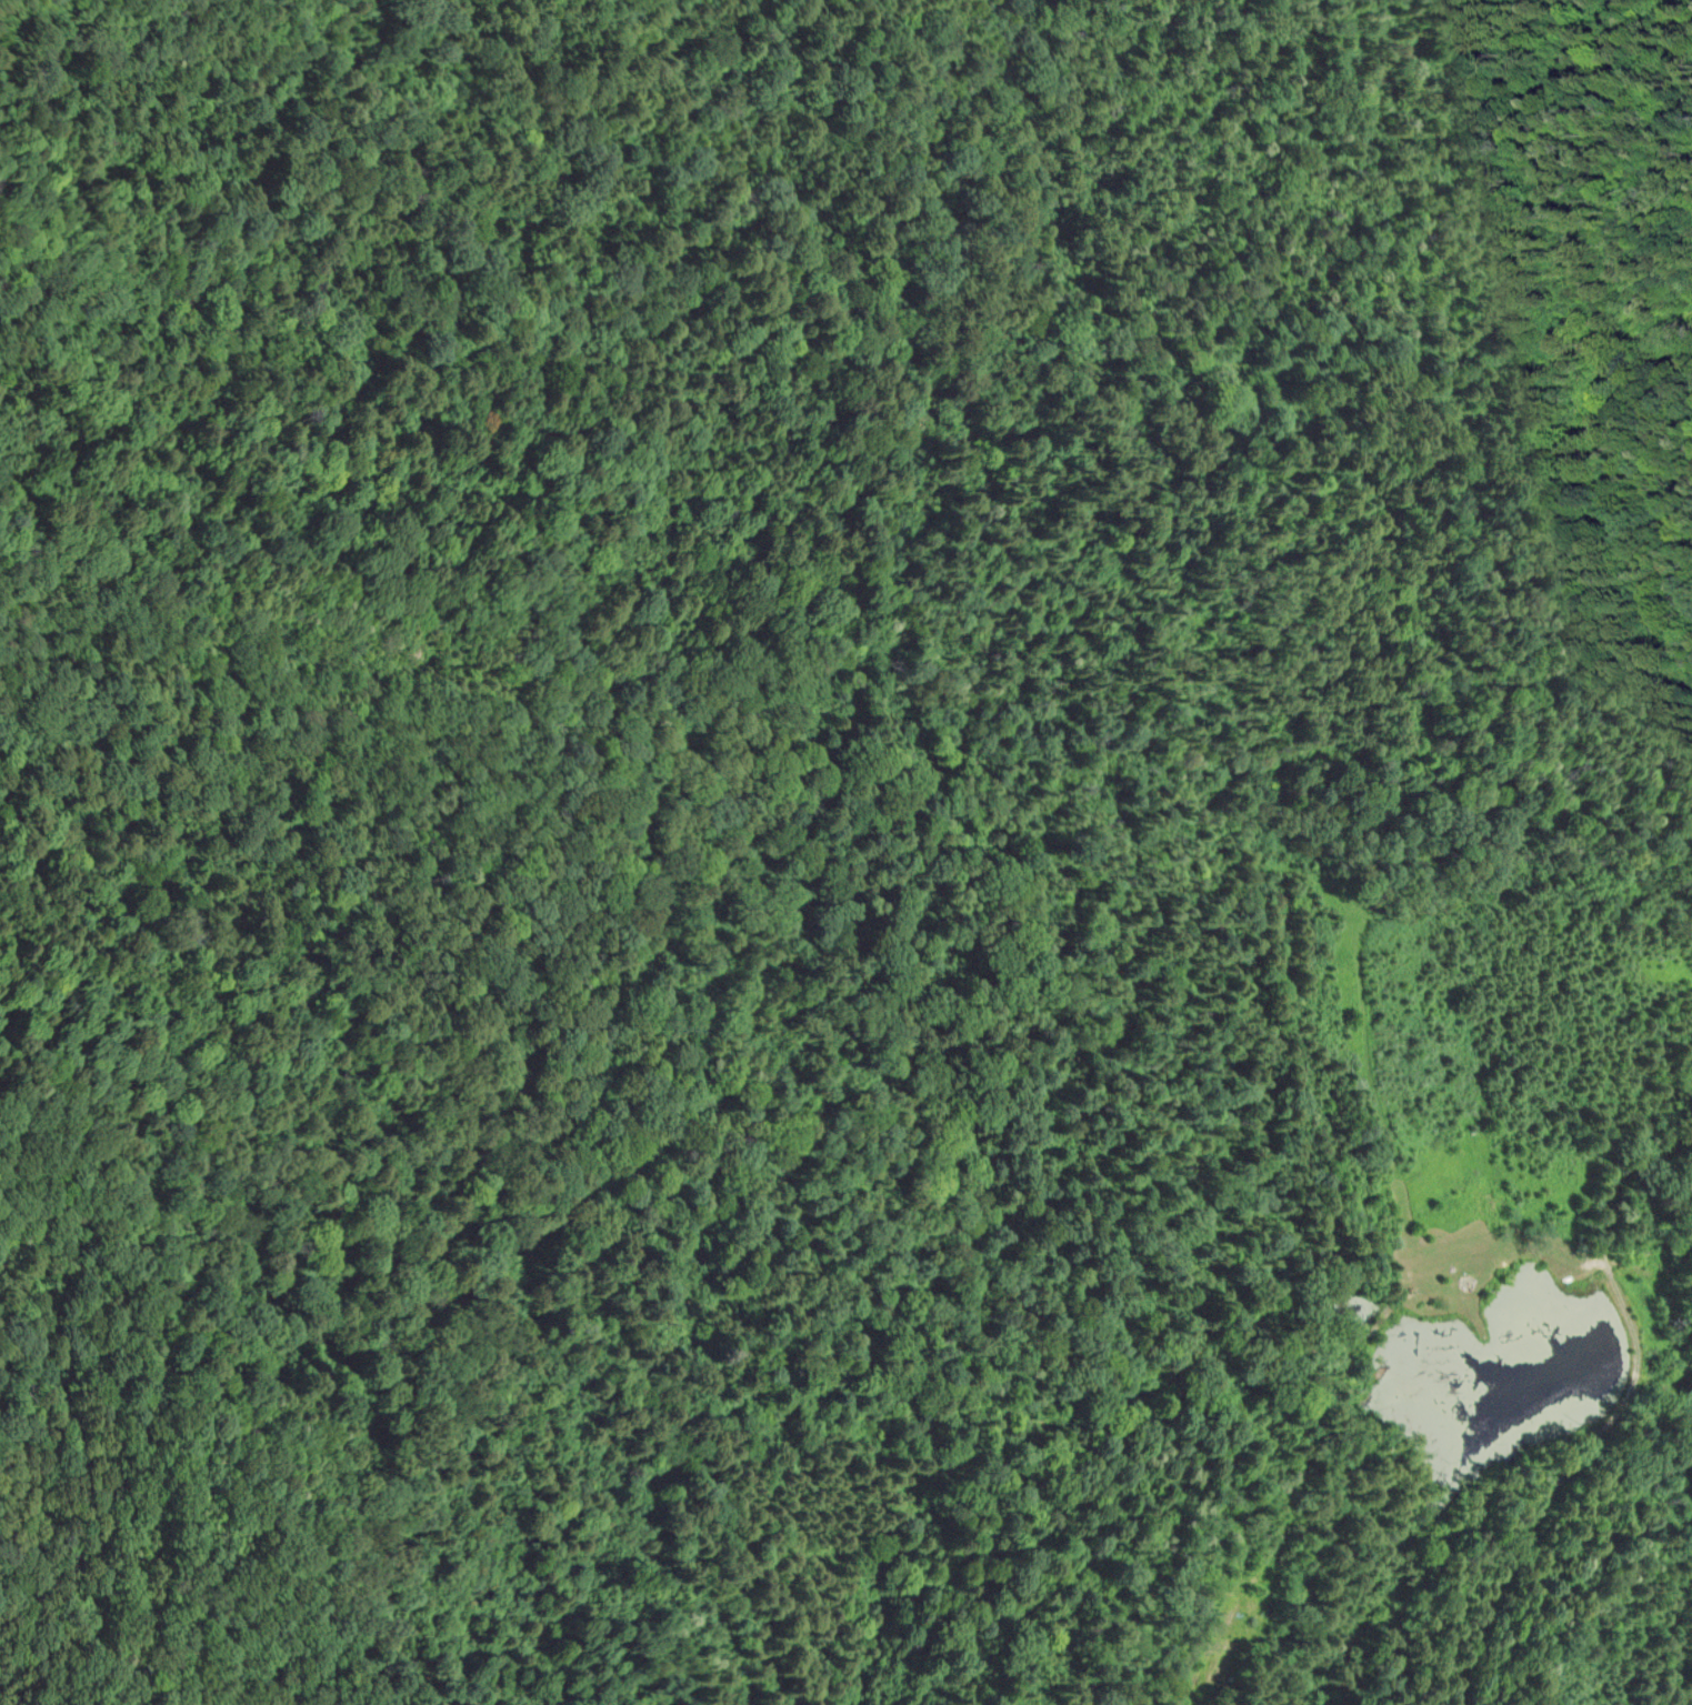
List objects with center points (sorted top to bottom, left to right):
road: (1591, 462)
road: (1601, 1224)
road: (1669, 1361)
road: (1530, 1517)

